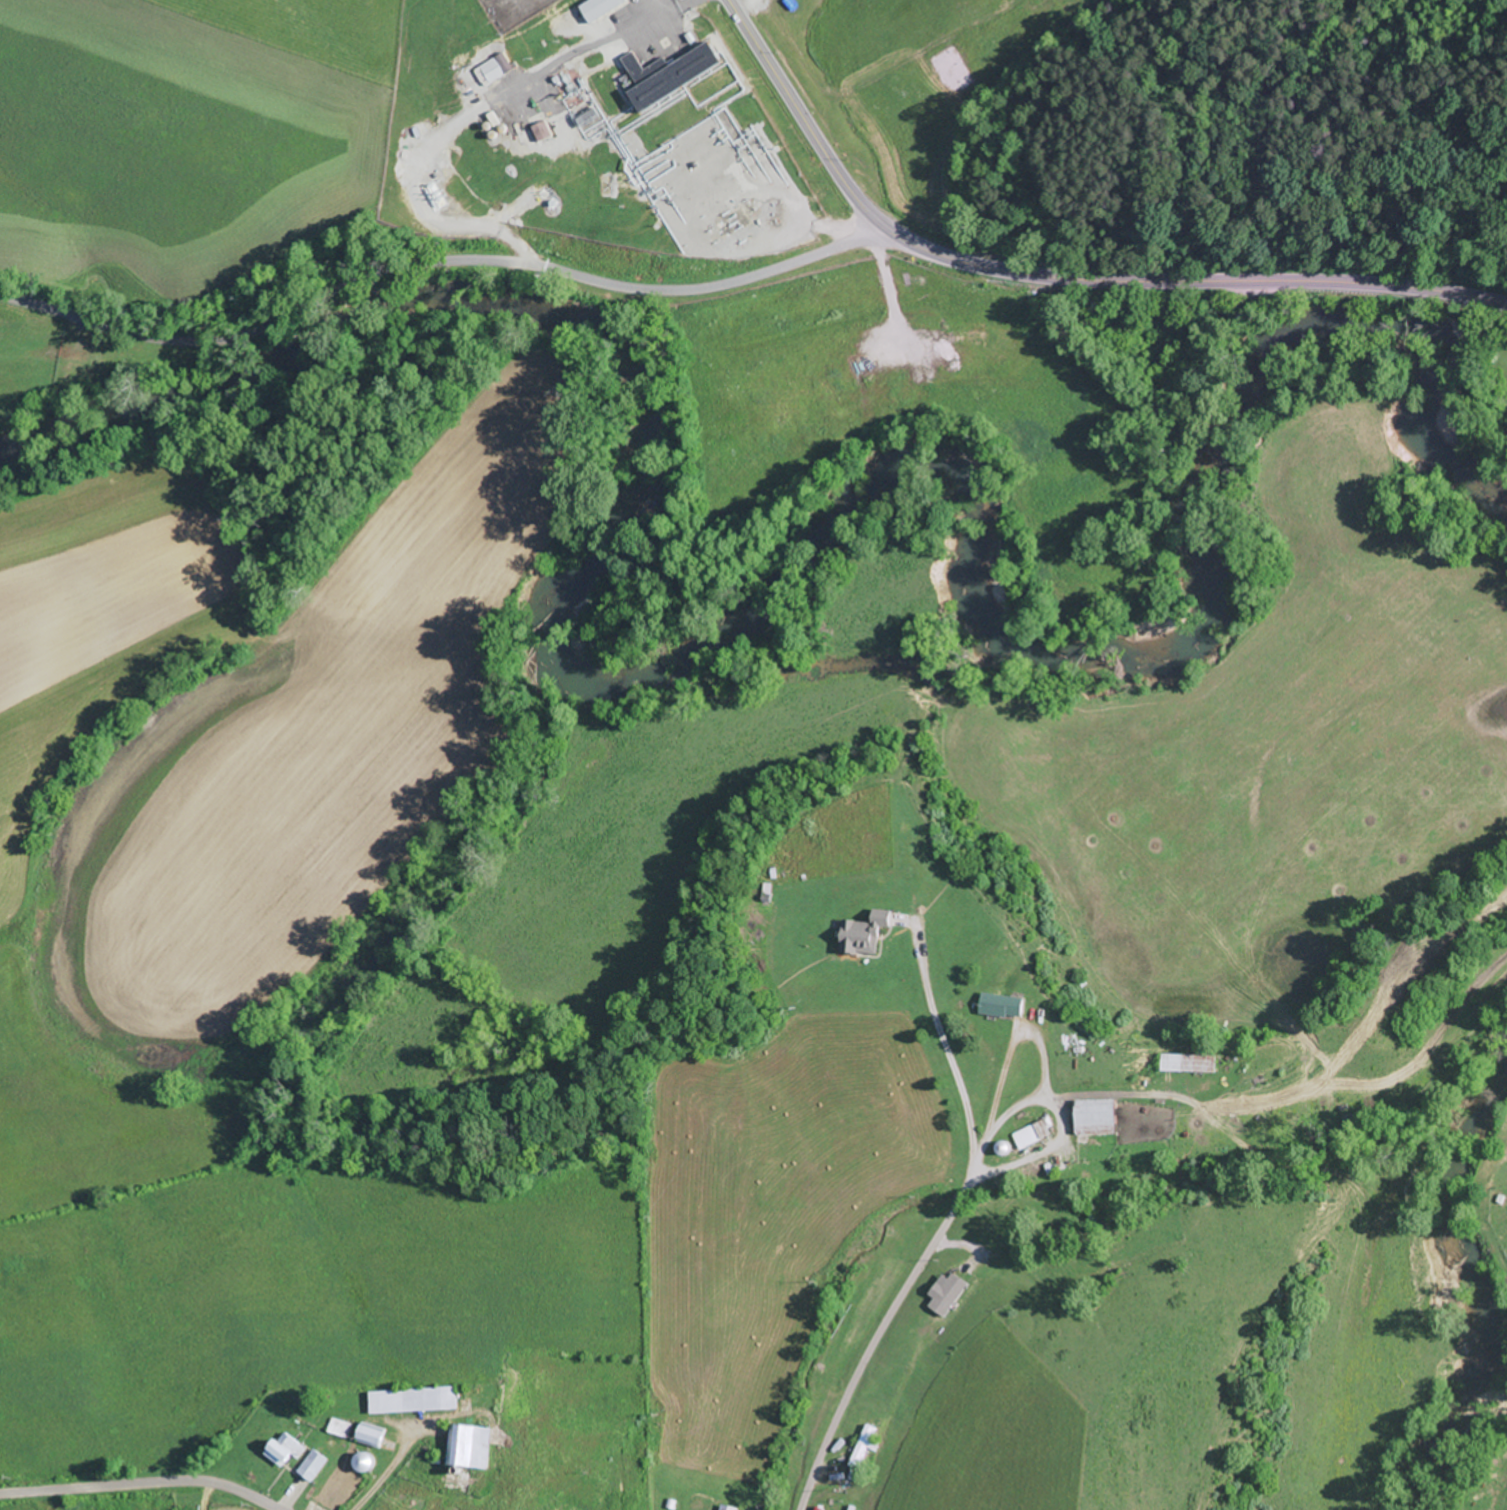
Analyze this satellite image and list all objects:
building: (597, 7)
road: (640, 10)
power substation: (513, 11)
road: (653, 16)
building: (494, 68)
building: (678, 78)
building: (528, 135)
road: (436, 140)
road: (440, 261)
road: (1054, 276)
river: (290, 370)
building: (861, 938)
building: (1004, 1006)
building: (1191, 1064)
road: (1072, 1094)
building: (1099, 1118)
building: (1033, 1135)
building: (414, 1400)
building: (340, 1428)
building: (373, 1435)
building: (471, 1445)
building: (863, 1446)
building: (285, 1449)
building: (365, 1463)
building: (314, 1465)
road: (143, 1481)
building: (728, 1507)

